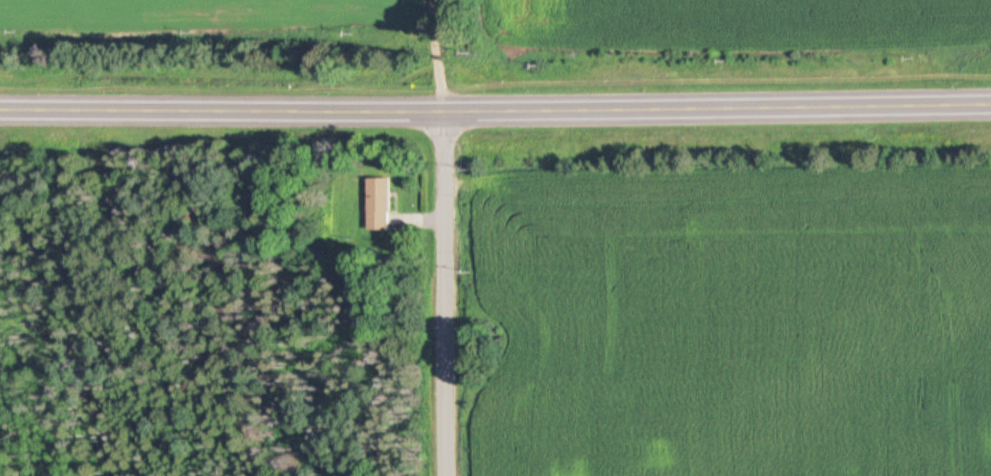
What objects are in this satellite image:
road: (495, 110)
building: (382, 204)
road: (449, 293)

